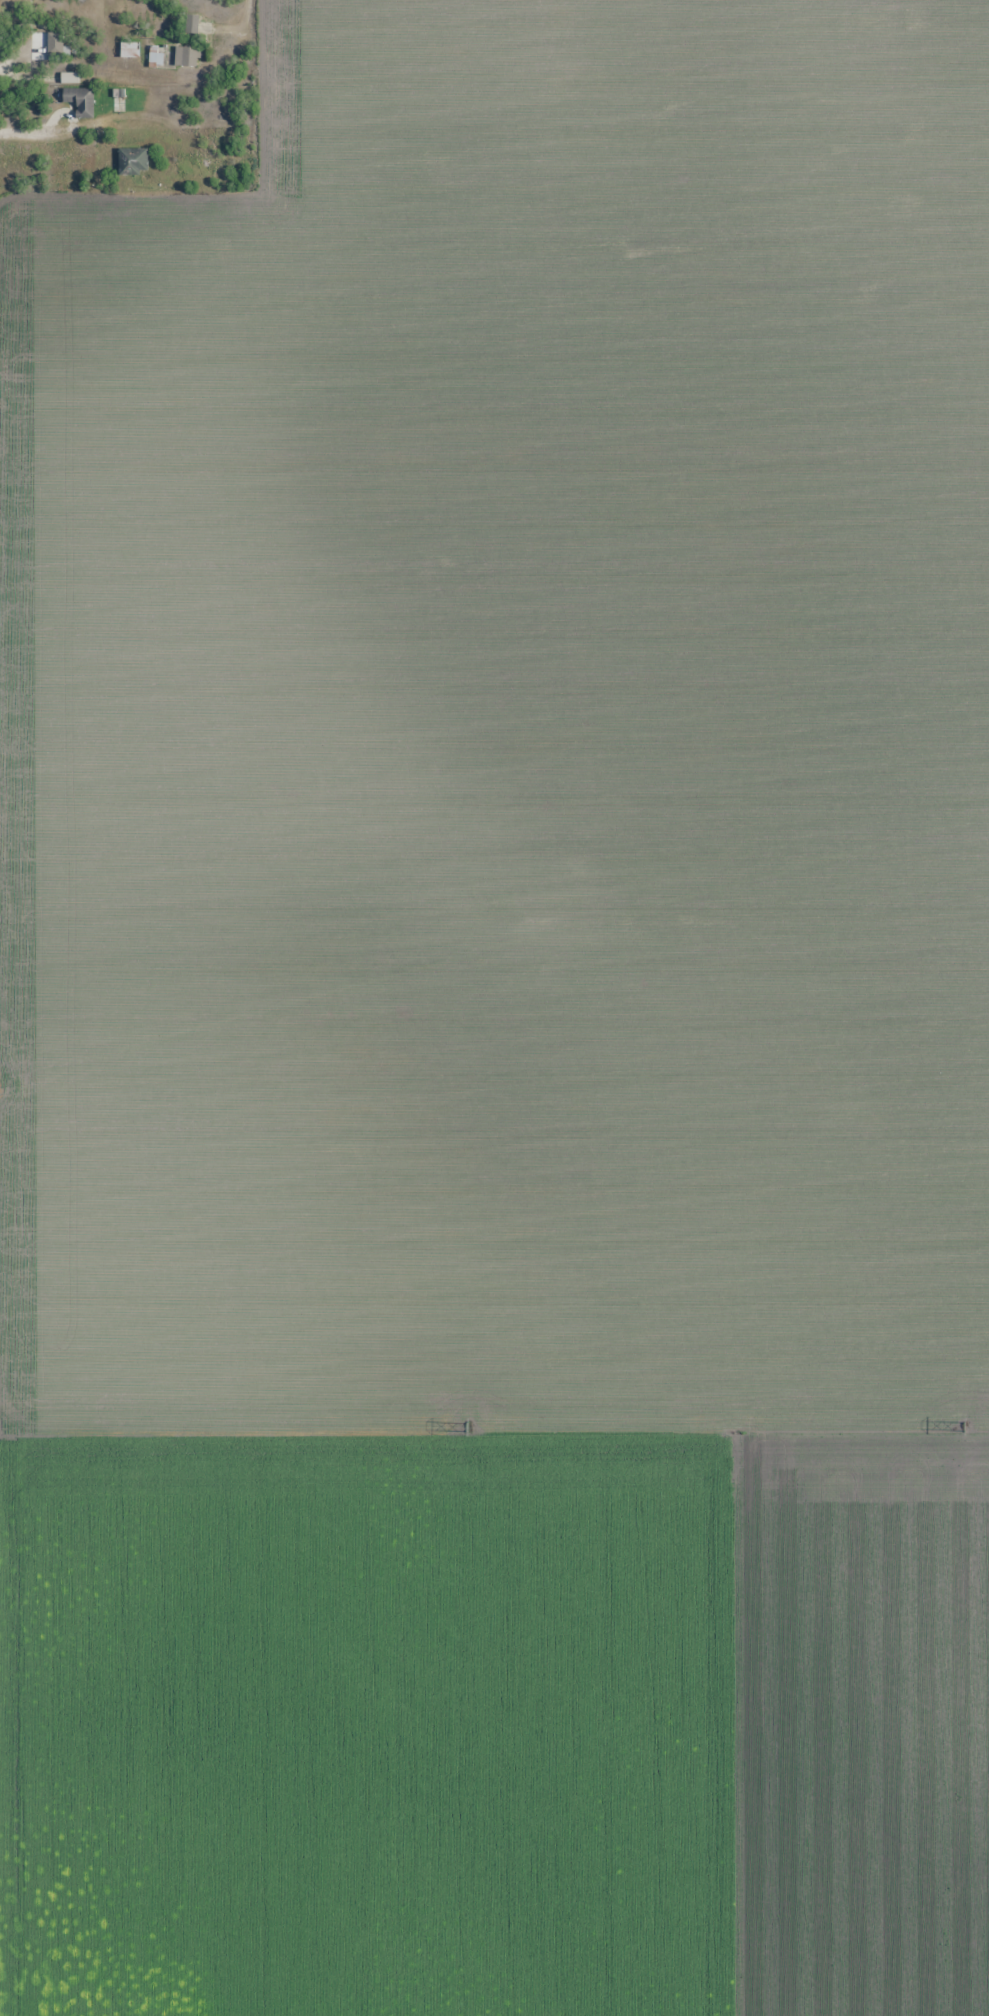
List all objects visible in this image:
building: (192, 24)
building: (55, 44)
building: (129, 50)
building: (155, 57)
building: (187, 57)
building: (80, 101)
building: (133, 162)
power tower: (466, 1426)
power tower: (963, 1426)

